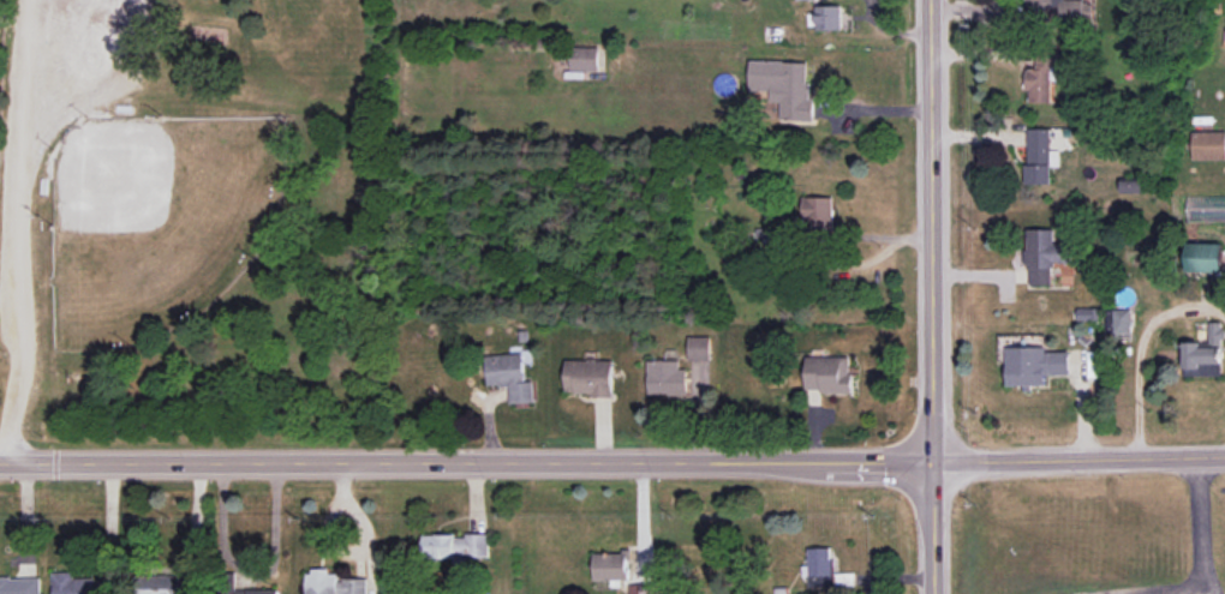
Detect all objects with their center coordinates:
building: (827, 17)
road: (890, 29)
building: (584, 58)
building: (1041, 77)
building: (784, 86)
building: (1208, 145)
building: (1038, 155)
building: (1130, 186)
building: (818, 211)
park: (173, 218)
road: (17, 230)
road: (838, 240)
building: (1042, 254)
building: (1207, 257)
road: (932, 296)
building: (1119, 323)
building: (699, 347)
building: (1205, 354)
road: (1141, 359)
building: (1034, 365)
building: (829, 373)
building: (509, 376)
building: (588, 377)
building: (665, 378)
road: (466, 462)
road: (1078, 466)
road: (1200, 544)
building: (455, 547)
building: (610, 565)
building: (819, 568)
building: (72, 583)
building: (333, 583)
building: (20, 584)
building: (165, 584)
building: (640, 588)
building: (253, 592)
road: (1201, 592)

